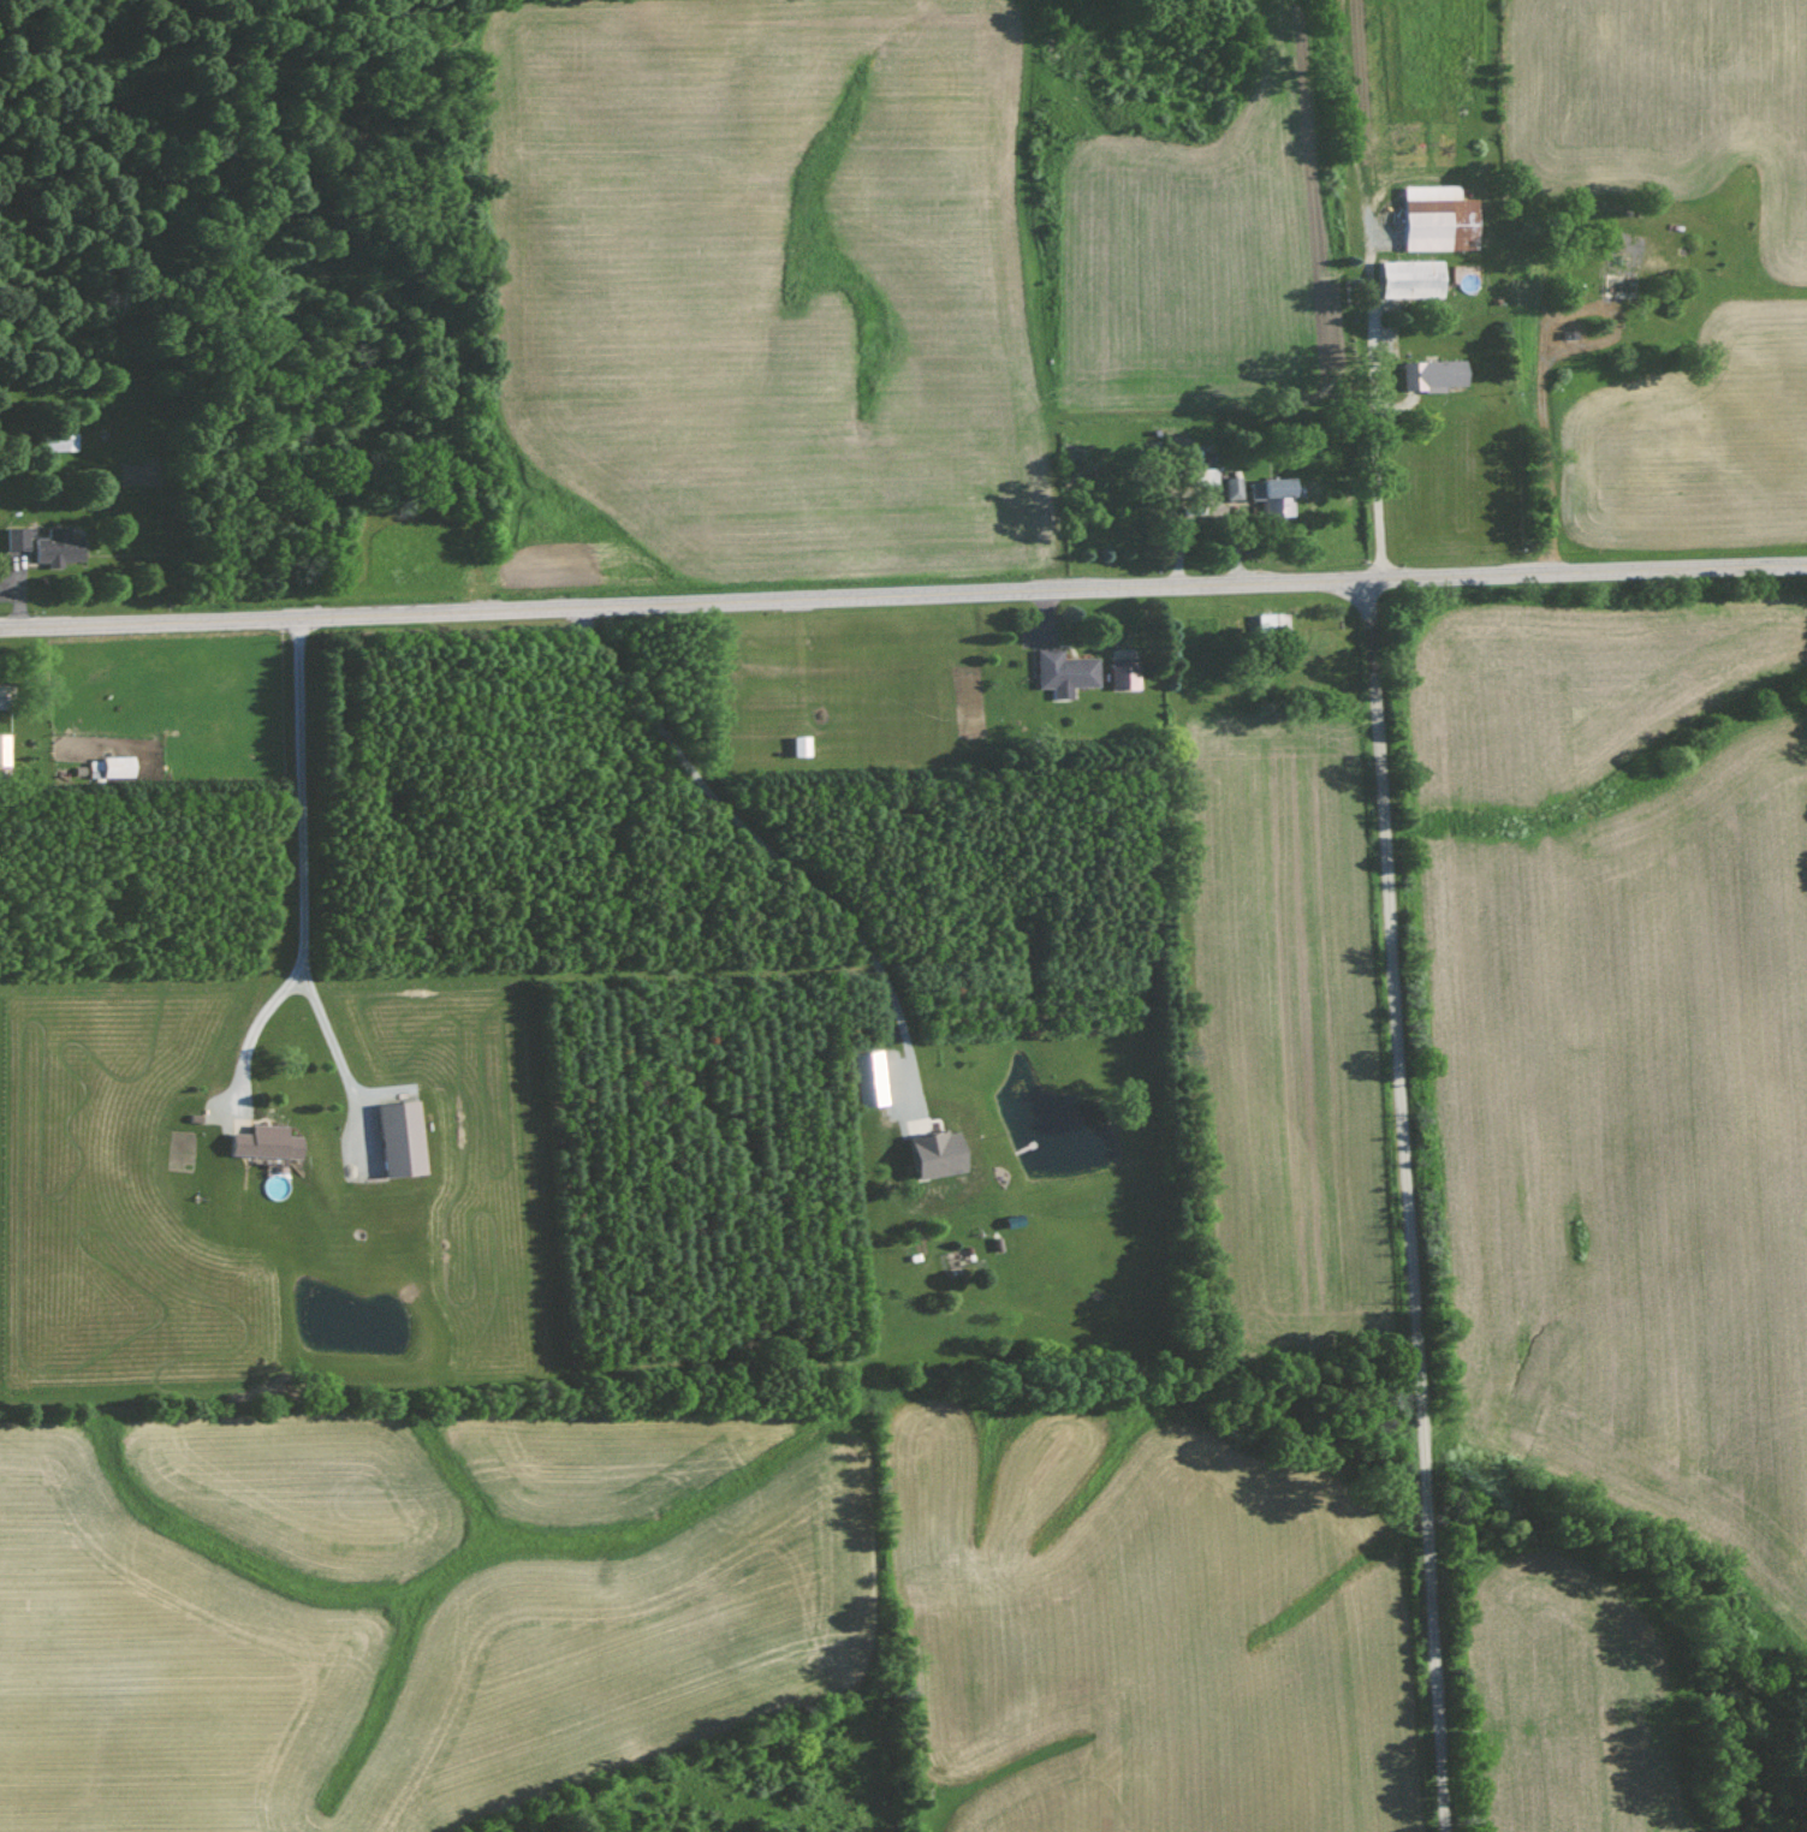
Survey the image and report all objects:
building: (1440, 219)
building: (1414, 278)
building: (1436, 373)
building: (60, 441)
building: (1234, 487)
building: (1274, 495)
building: (17, 537)
building: (59, 547)
road: (903, 593)
building: (1066, 671)
building: (1125, 672)
building: (2, 695)
building: (802, 745)
building: (5, 749)
building: (112, 766)
building: (870, 1078)
building: (402, 1138)
building: (267, 1142)
building: (939, 1153)
road: (1408, 1205)

